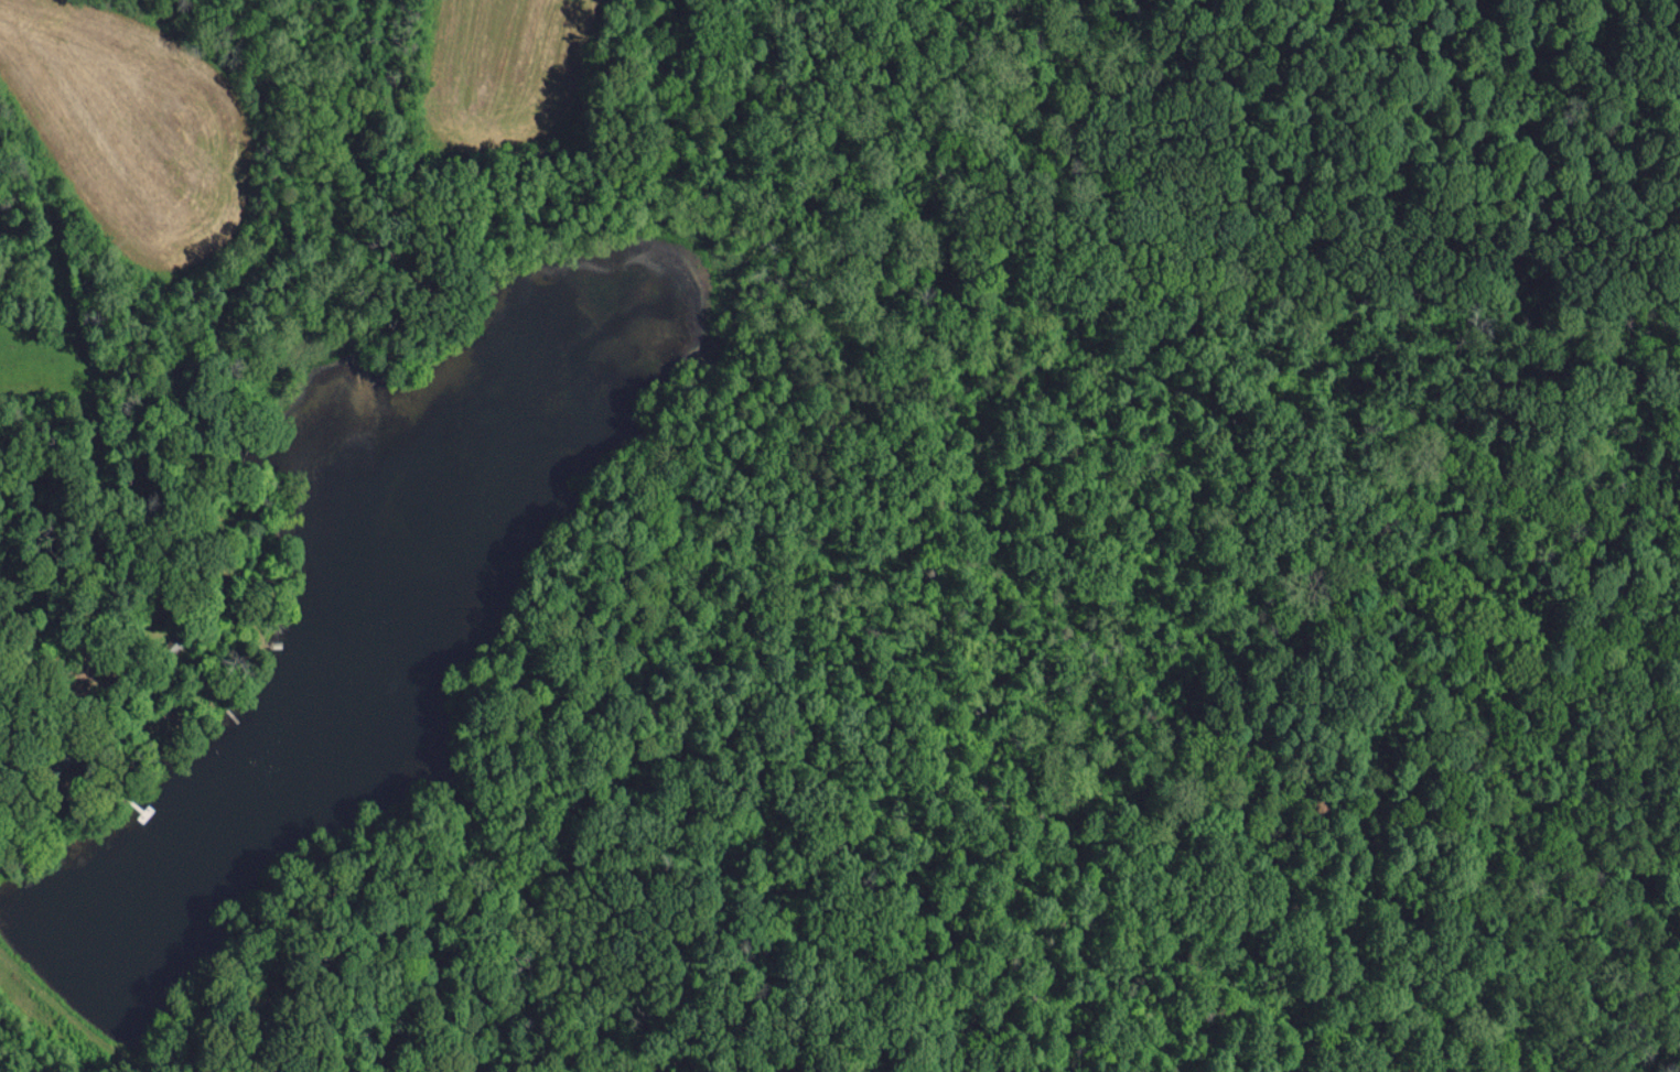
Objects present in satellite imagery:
dam: (51, 995)

